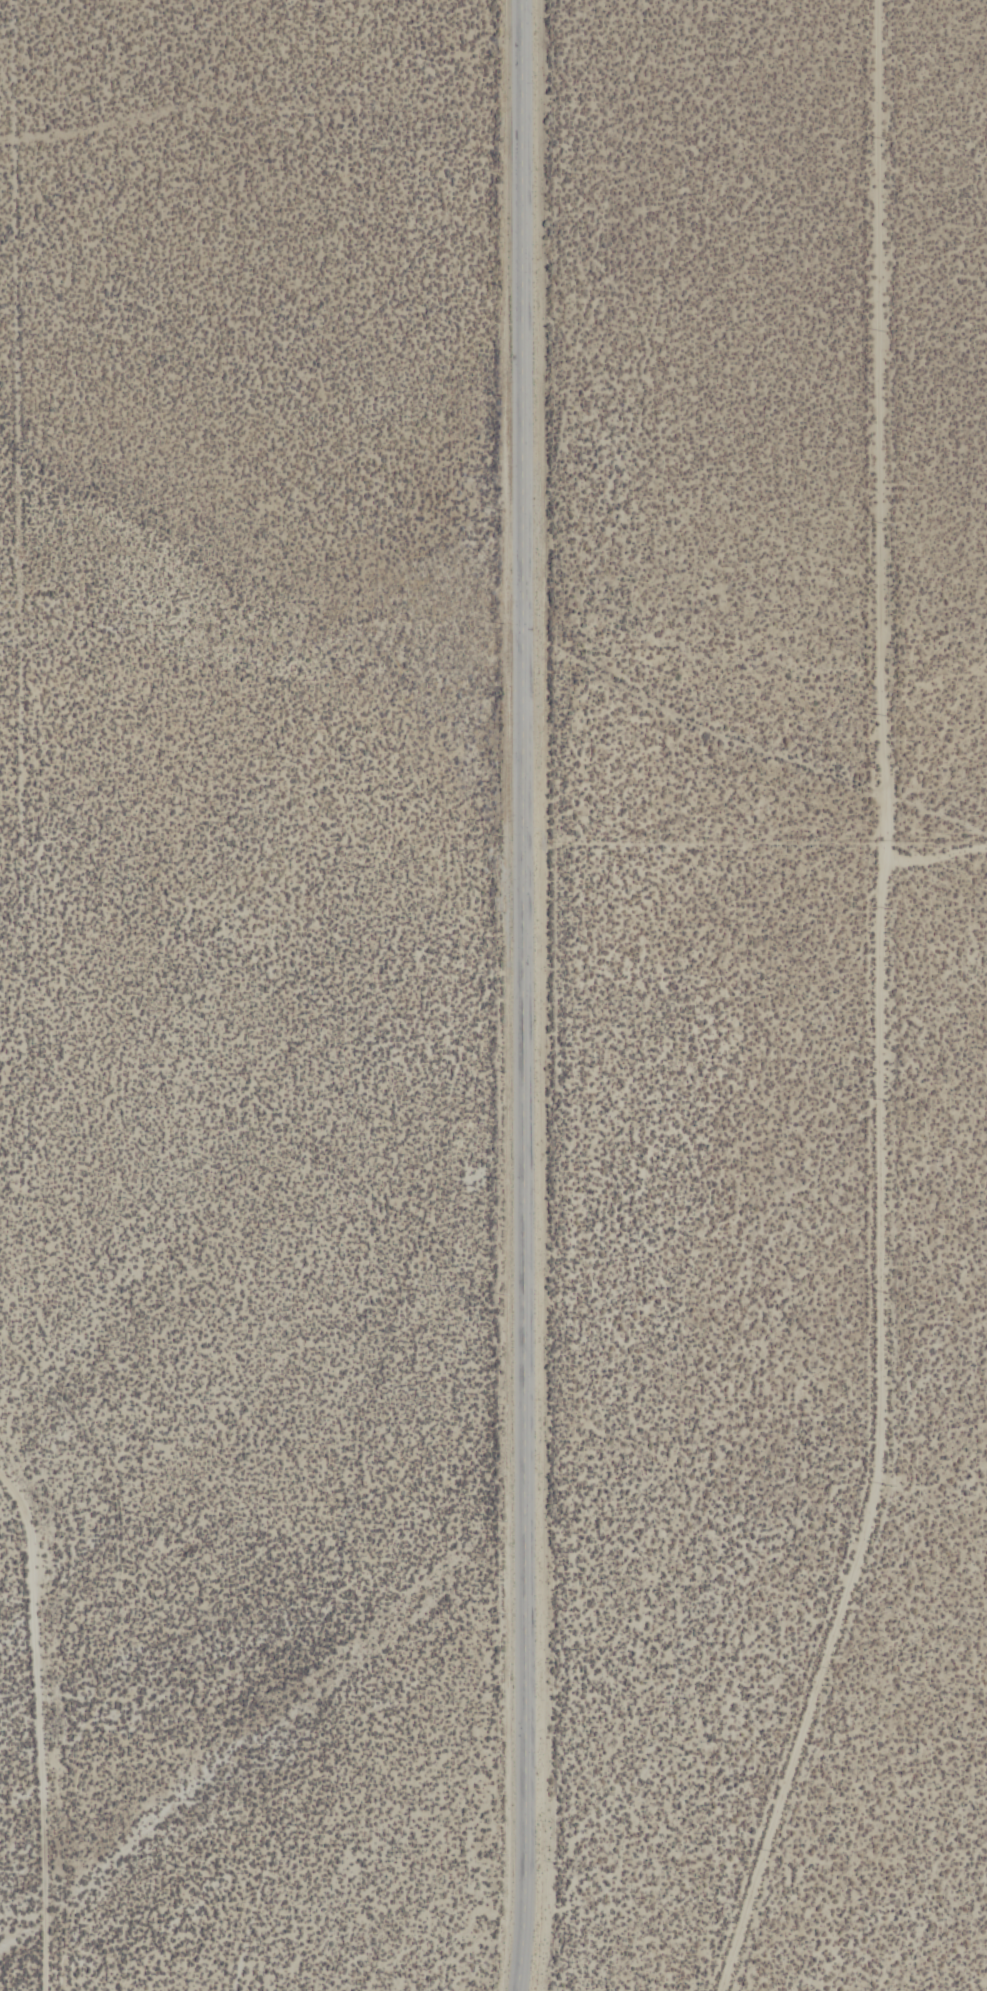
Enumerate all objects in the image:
road: (936, 851)
road: (524, 995)
road: (885, 1007)
road: (44, 1725)

